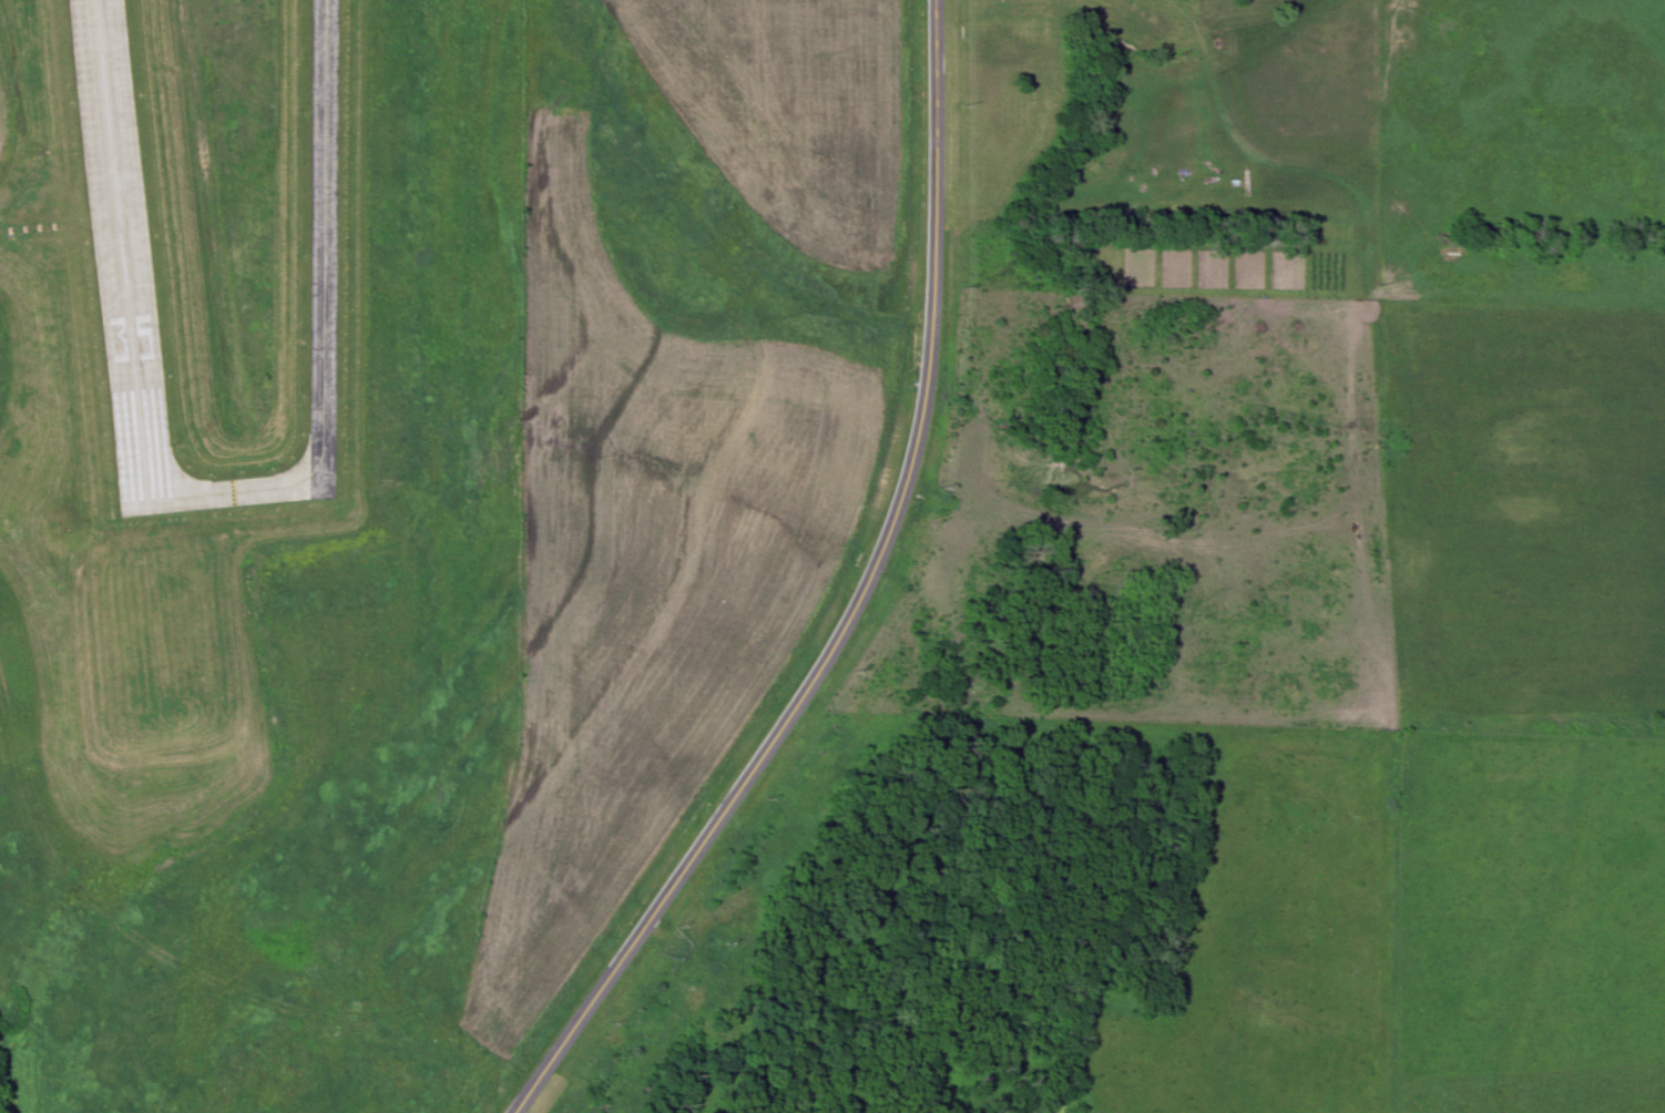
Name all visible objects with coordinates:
airport runway: (114, 259)
airport taxiway: (318, 329)
airport: (409, 503)
road: (854, 602)

